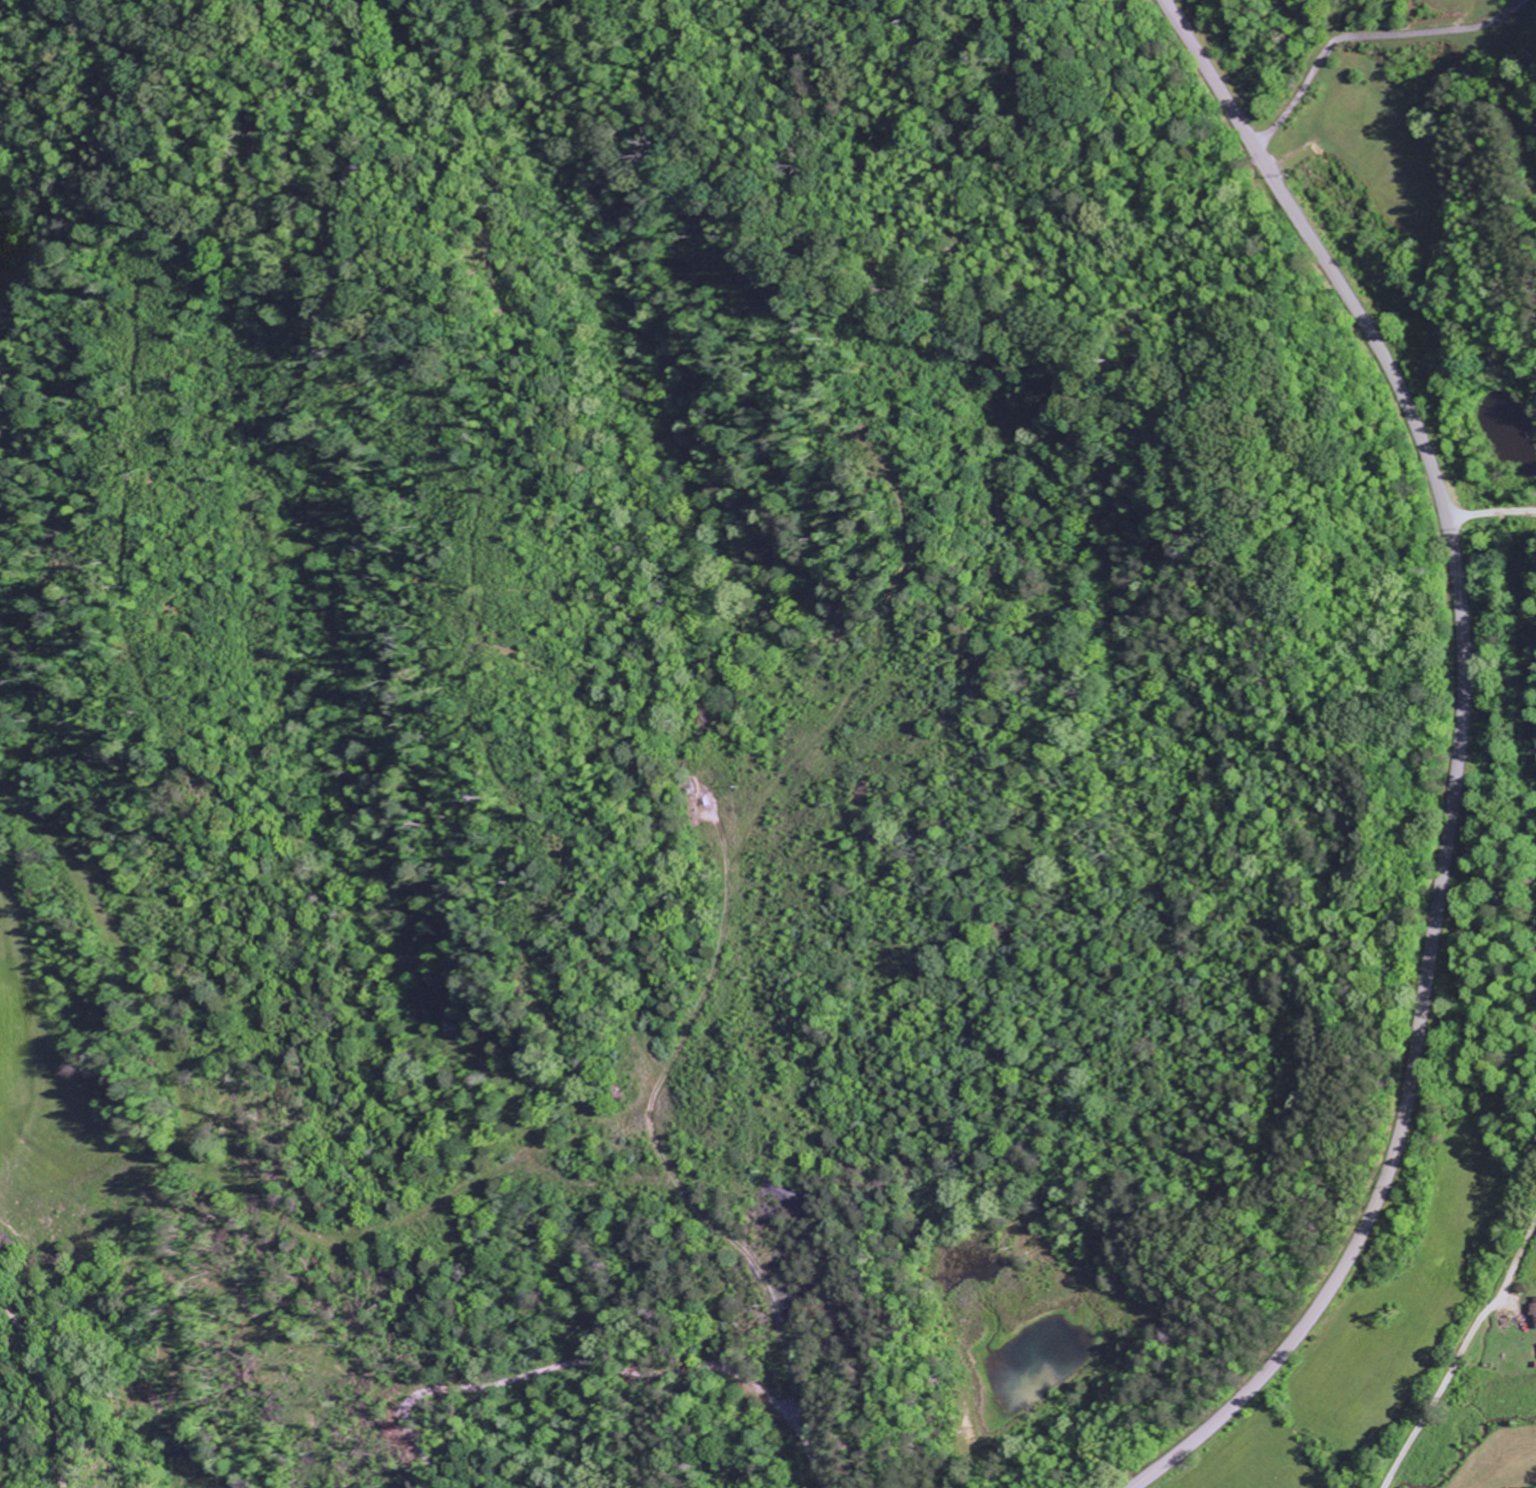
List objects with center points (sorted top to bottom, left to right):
road: (1461, 758)
building: (1535, 1306)
road: (1459, 1352)

